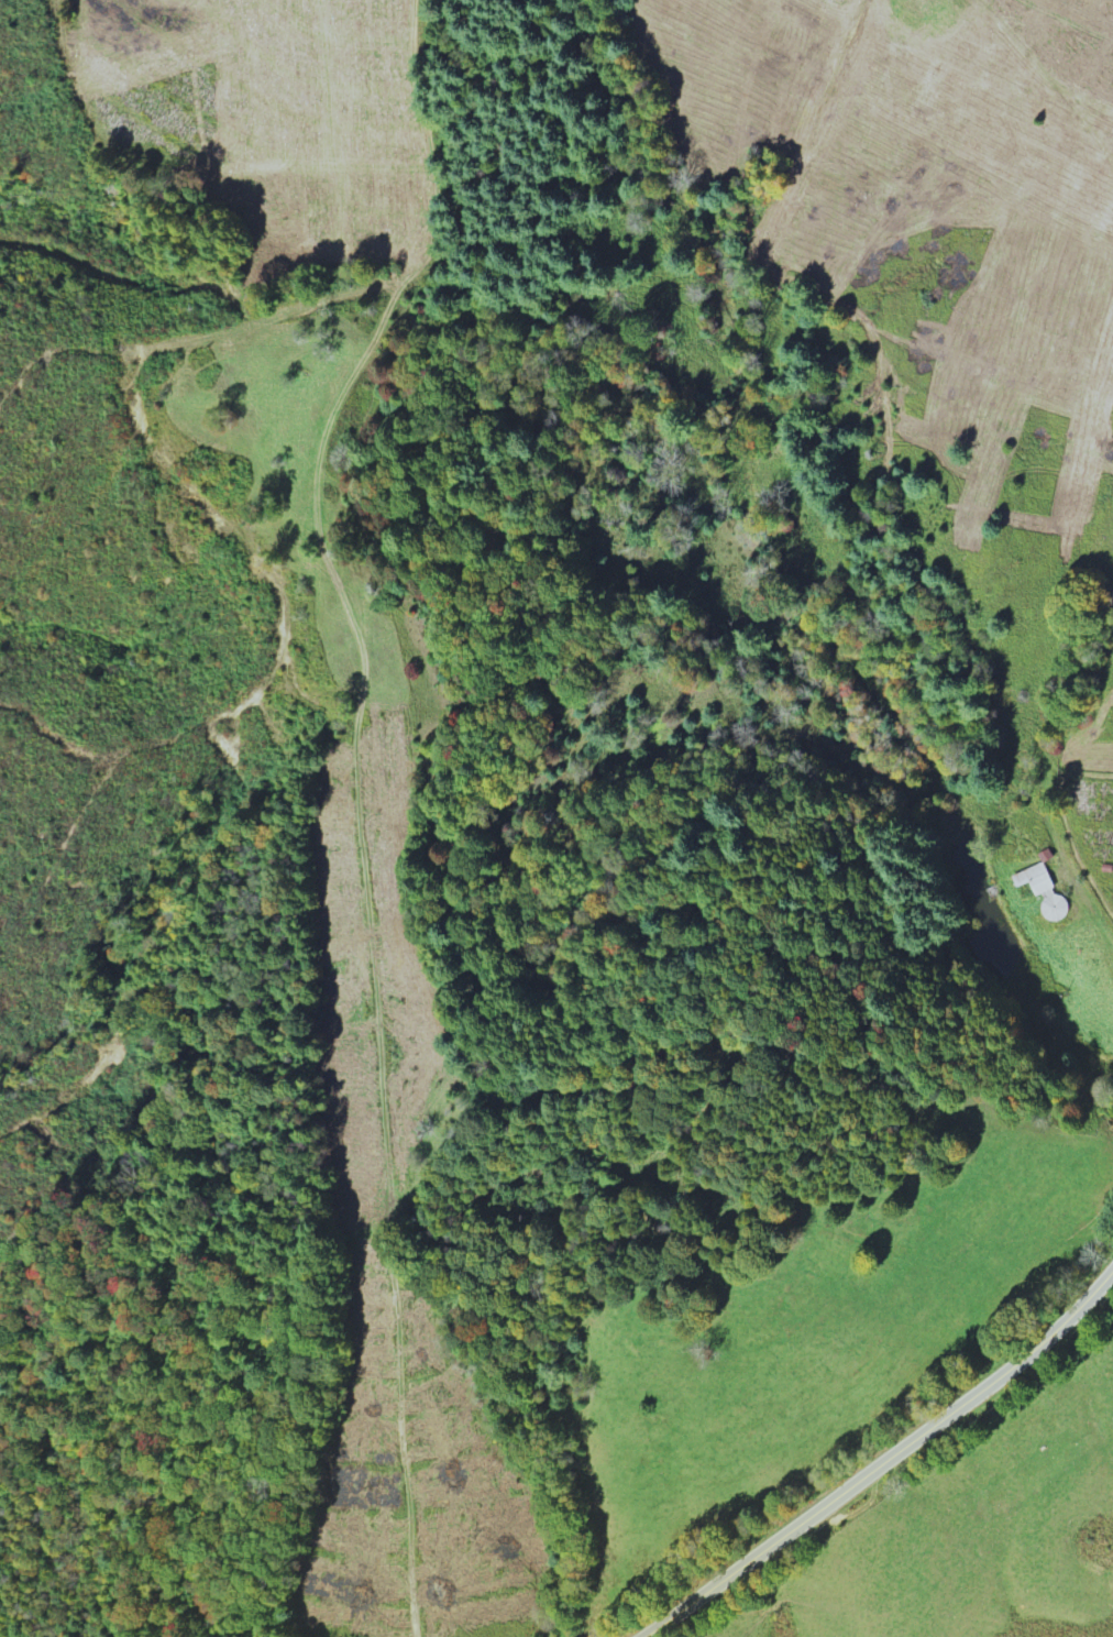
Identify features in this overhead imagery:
road: (881, 1460)

